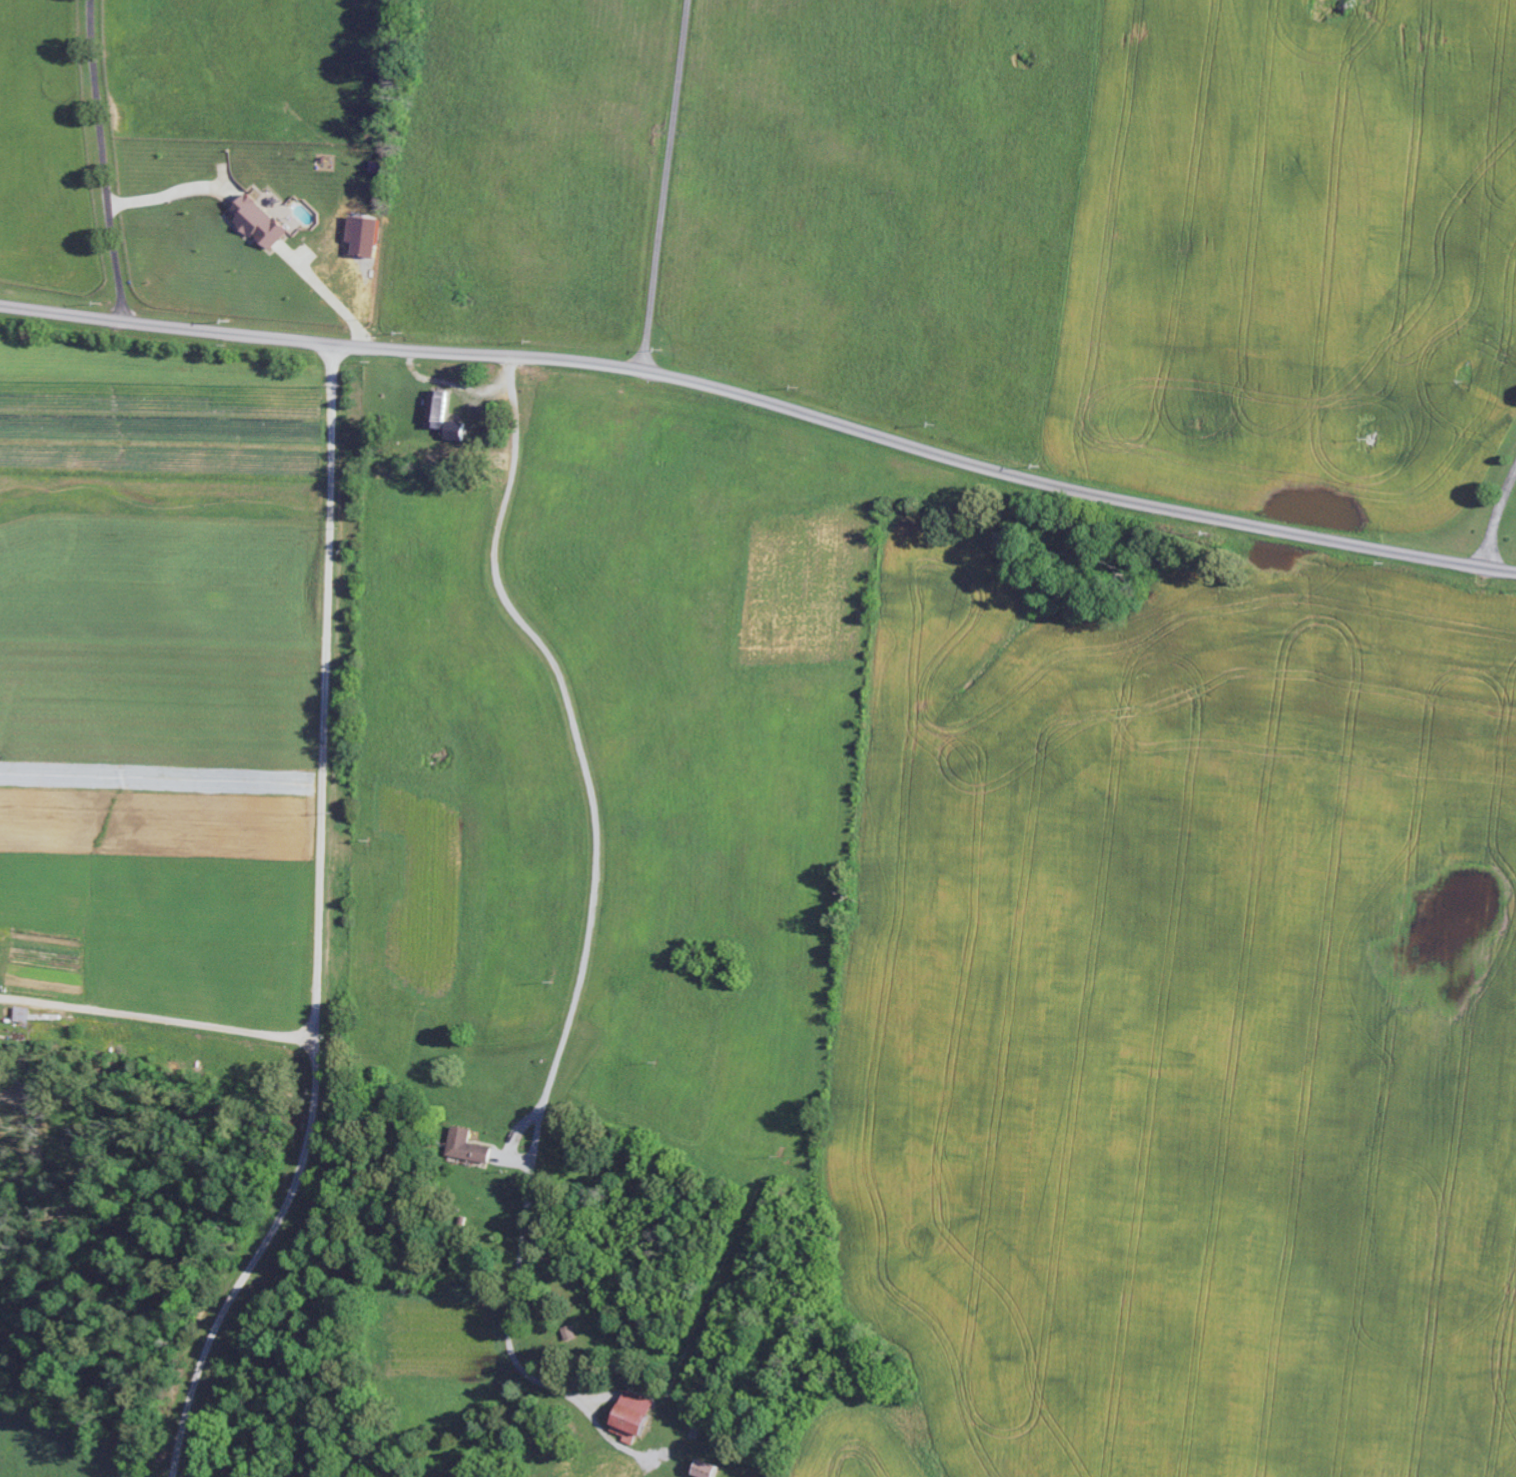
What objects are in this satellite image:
road: (102, 161)
road: (666, 186)
building: (258, 223)
building: (363, 236)
road: (764, 404)
road: (592, 897)
road: (314, 925)
building: (468, 1148)
building: (569, 1335)
building: (632, 1418)
building: (707, 1470)

